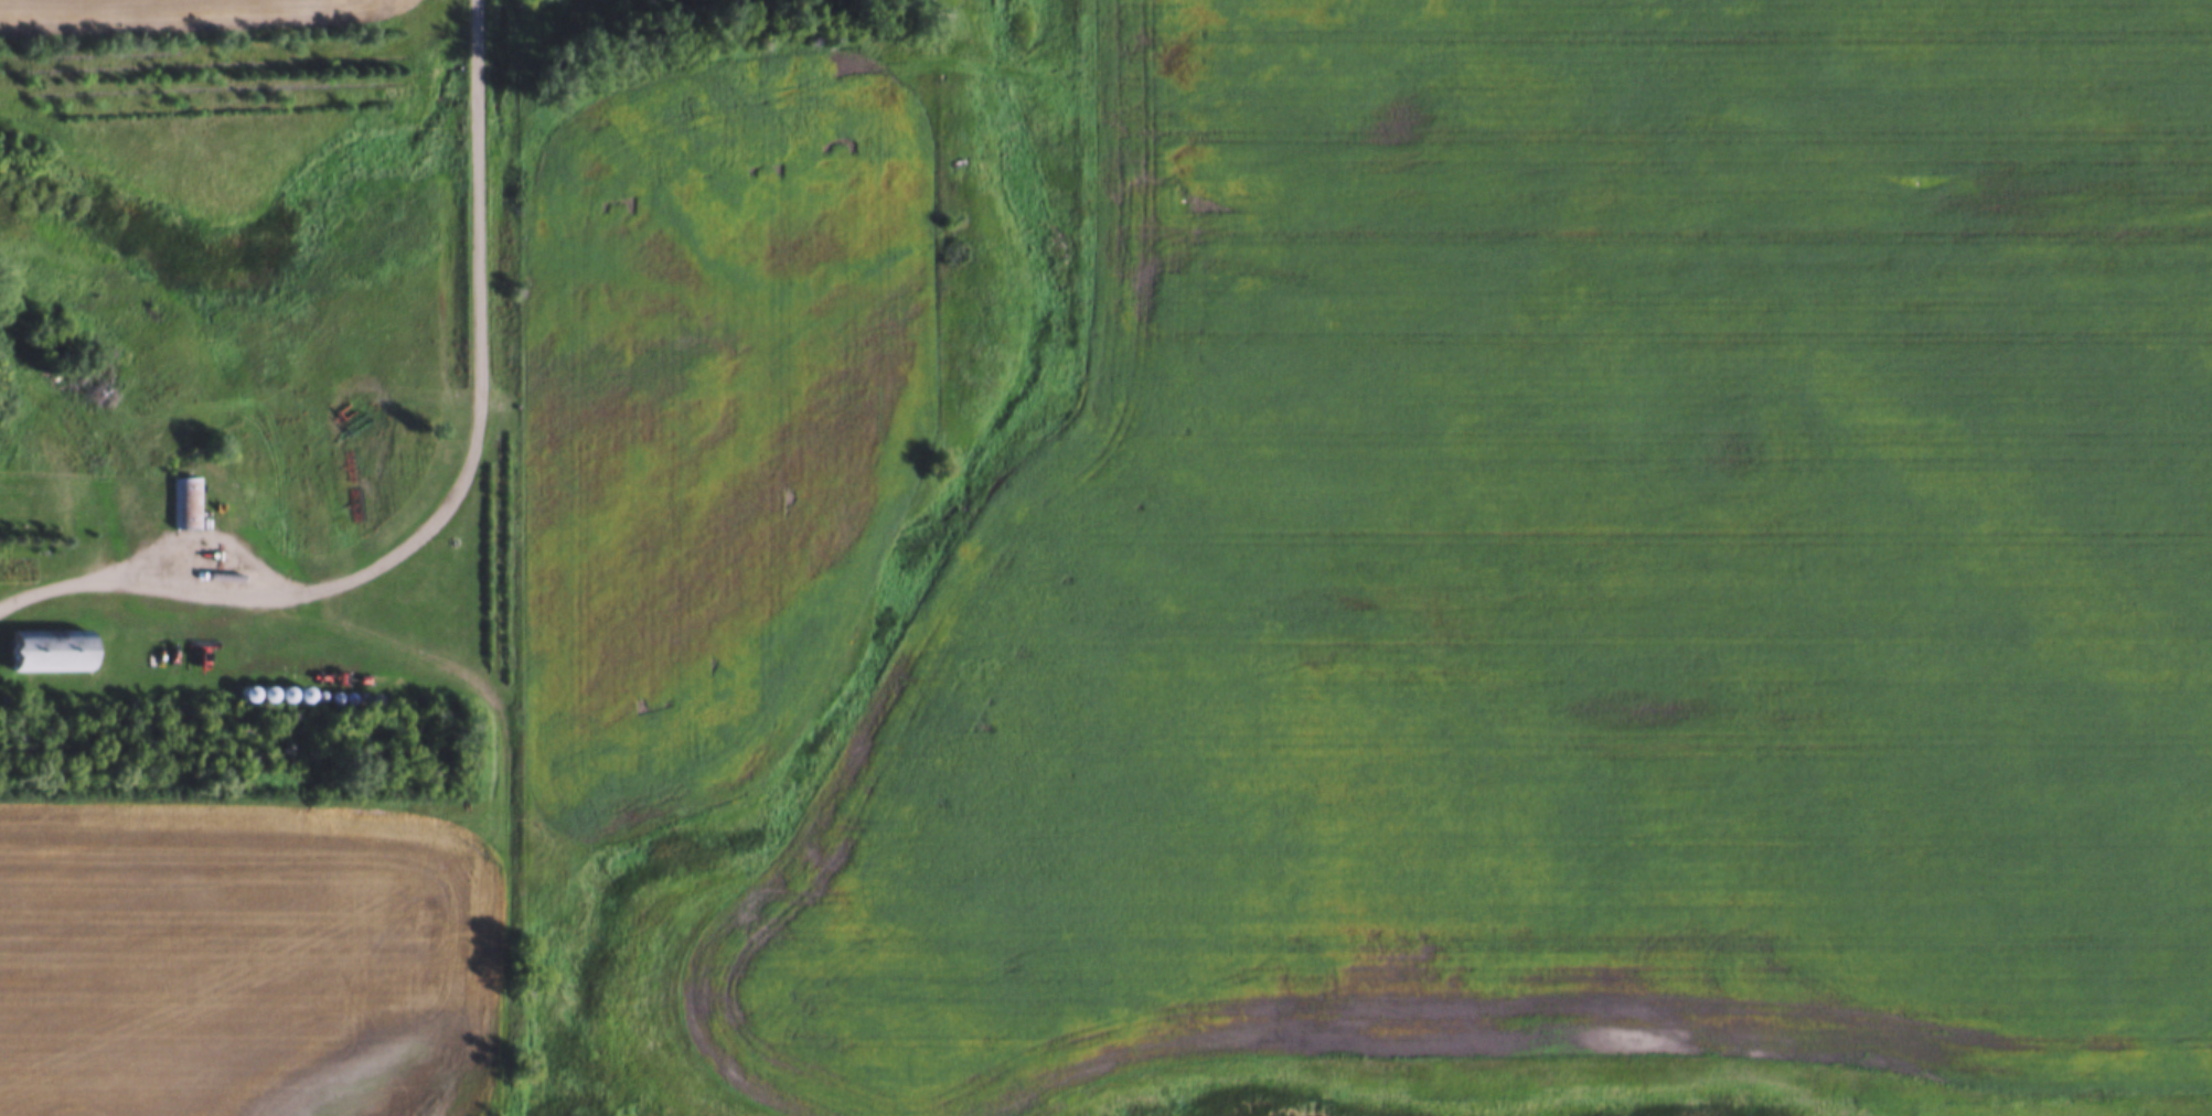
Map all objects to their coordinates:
road: (453, 489)
building: (188, 504)
building: (51, 651)

